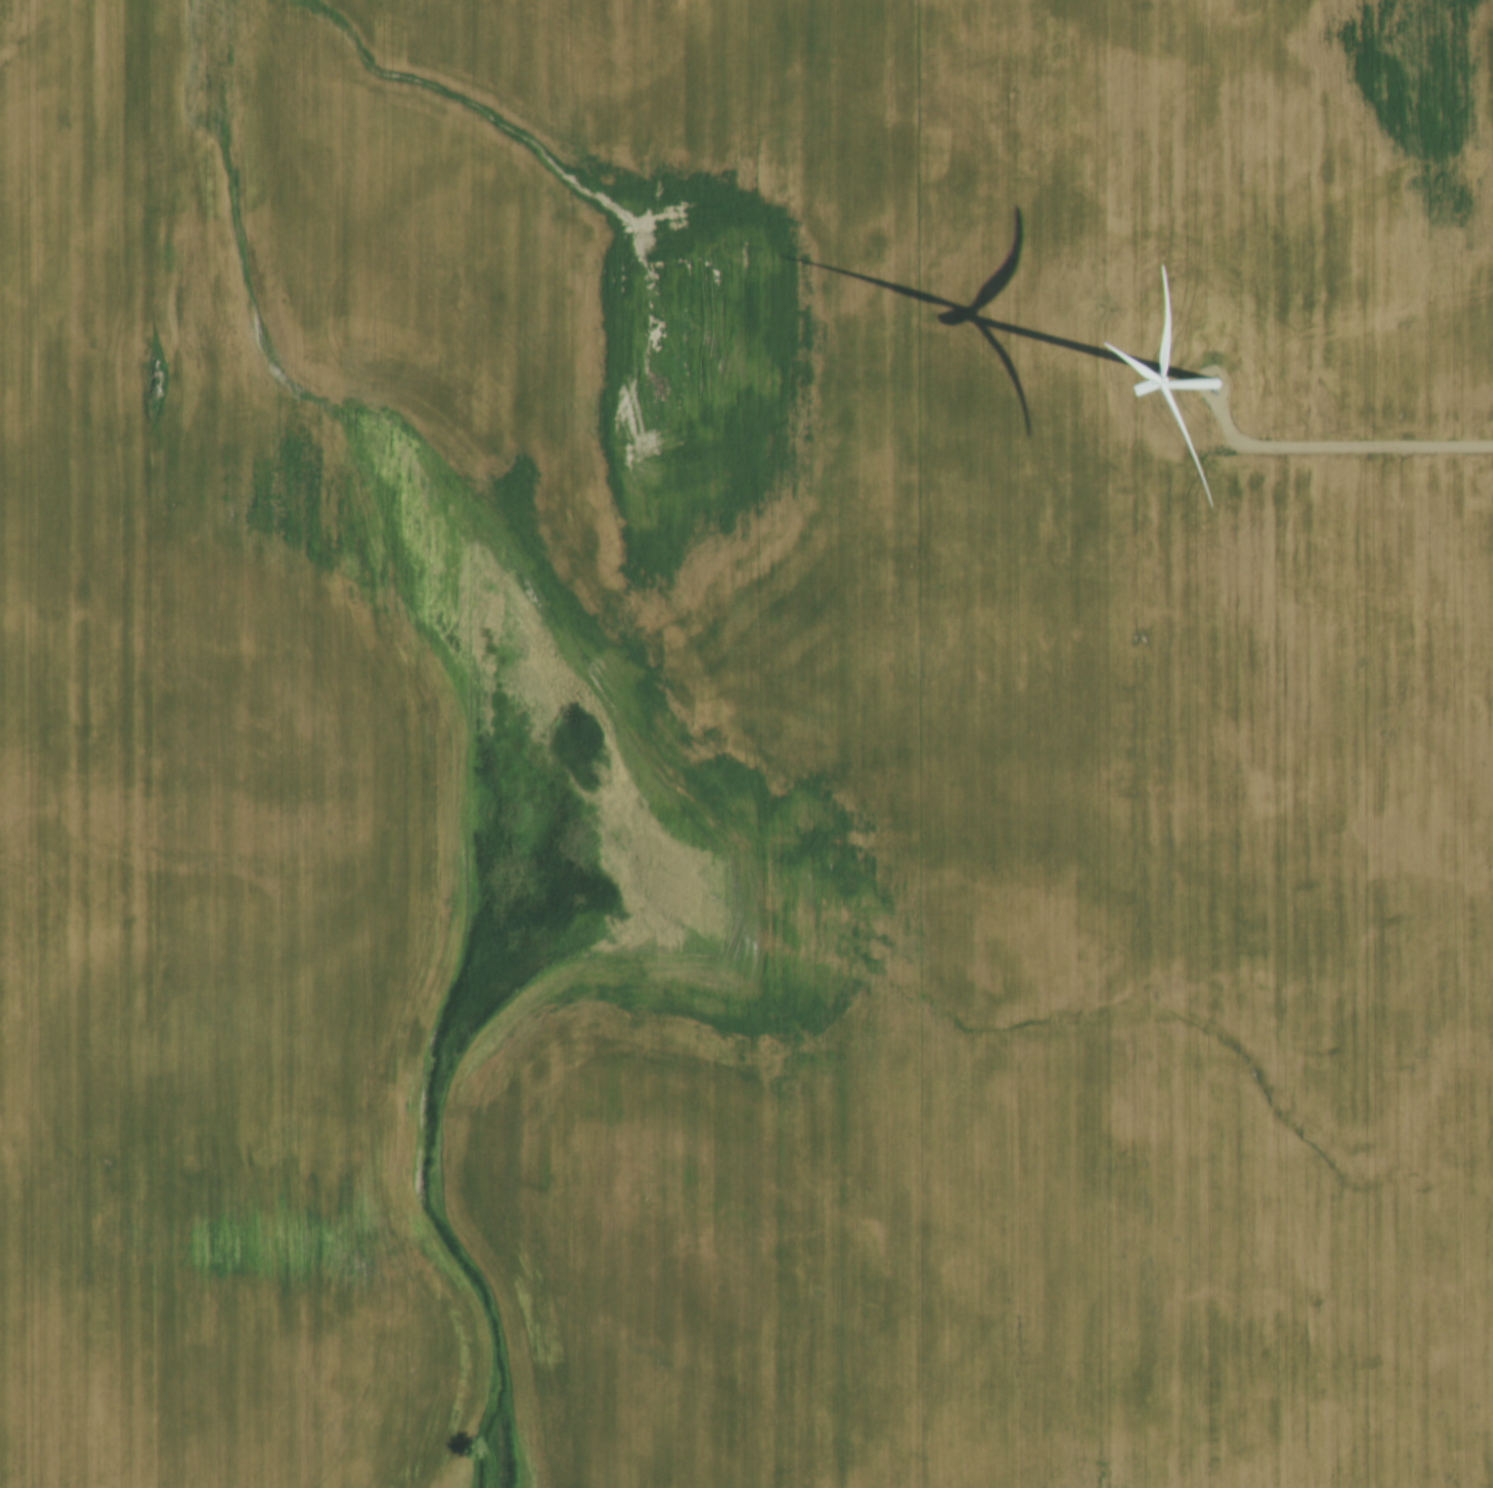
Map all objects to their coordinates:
wind turbine: (1213, 388)

